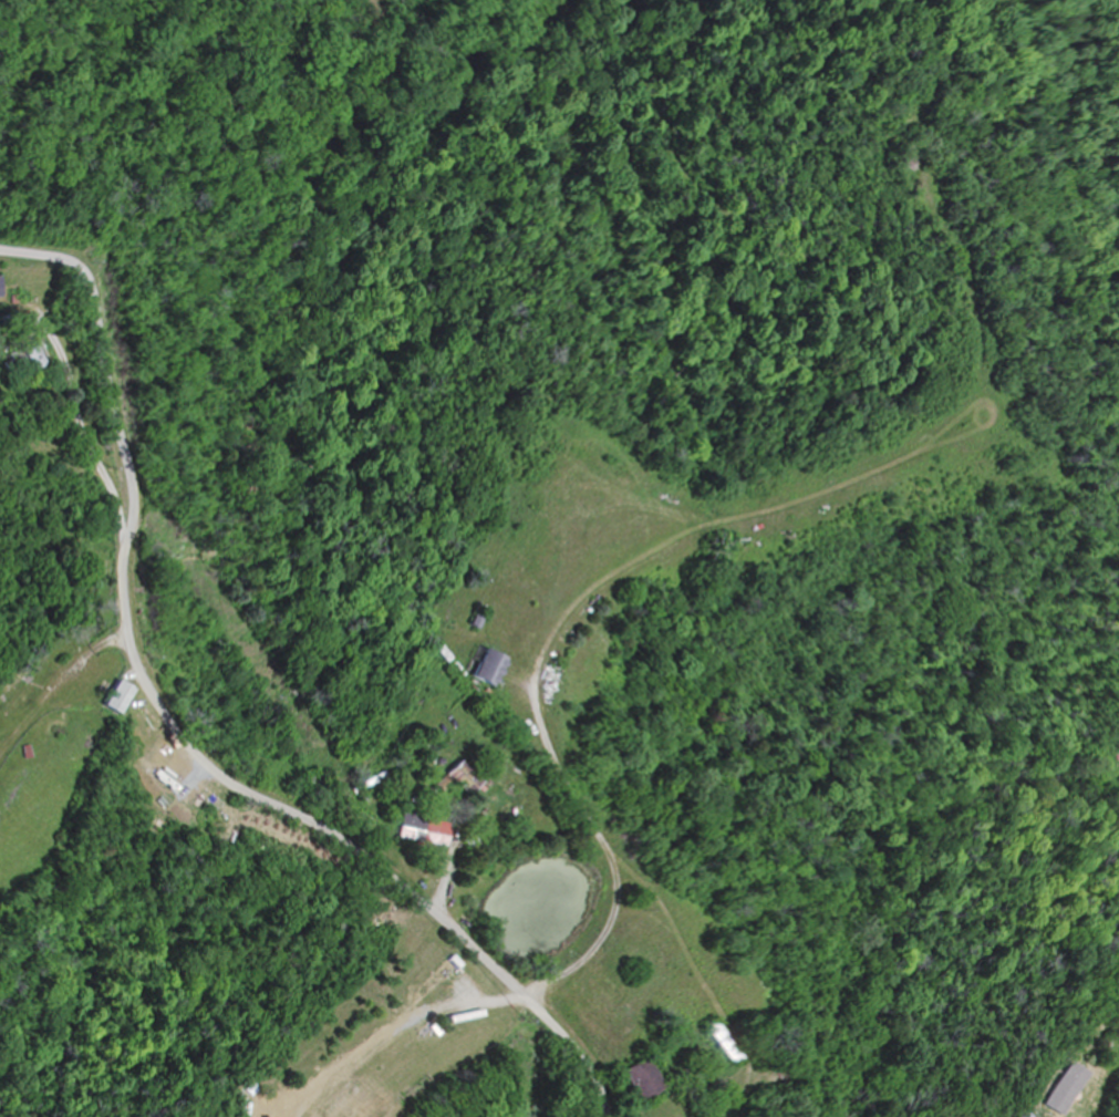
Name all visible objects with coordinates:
road: (185, 743)

